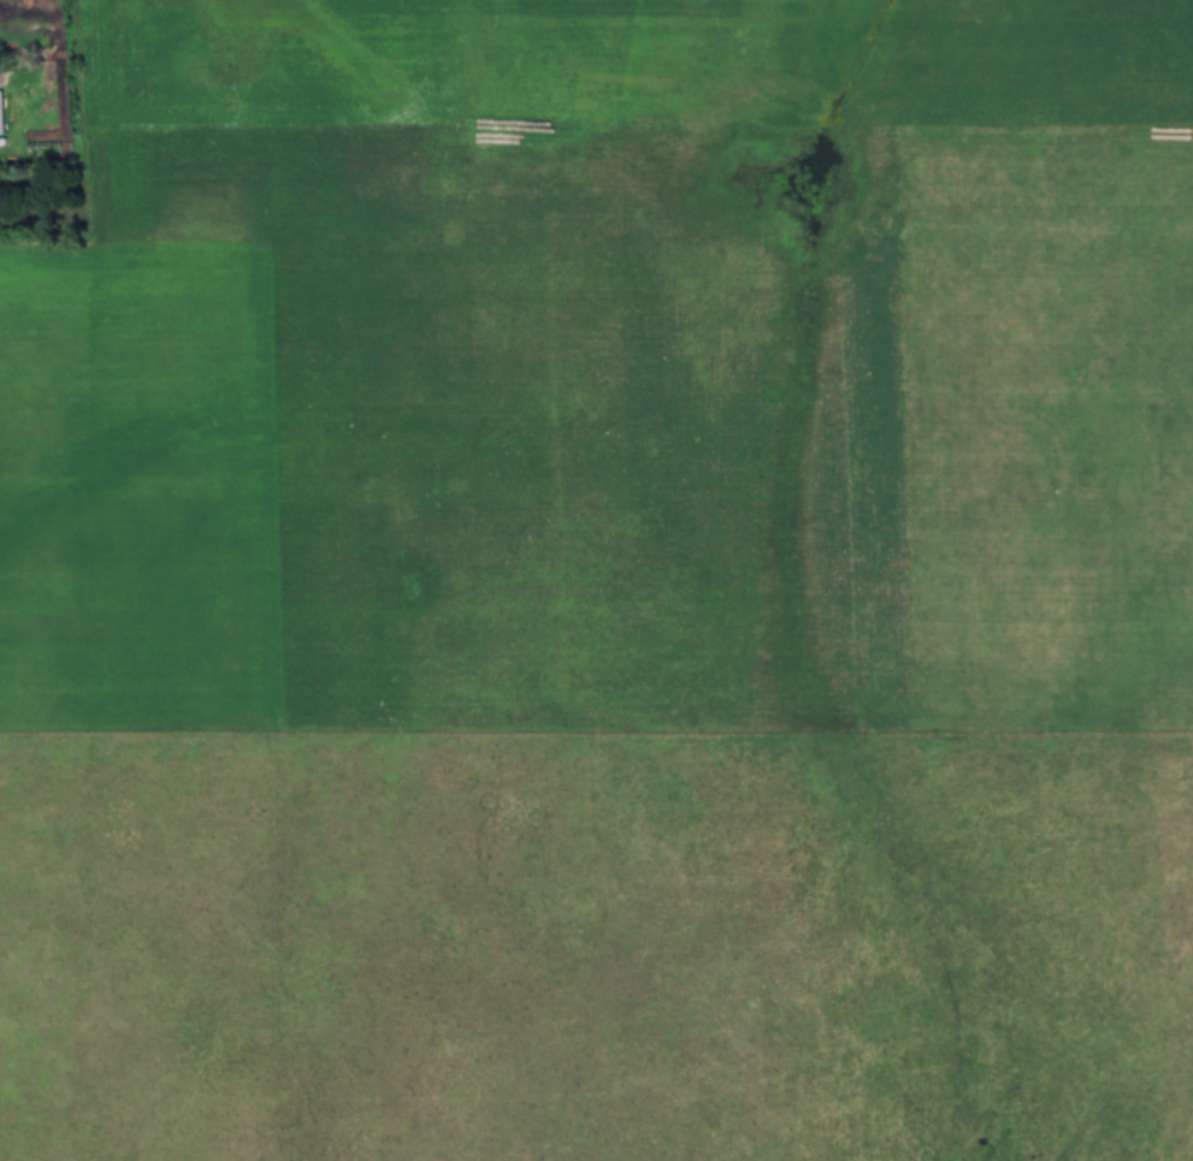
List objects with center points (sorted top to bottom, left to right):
road: (22, 130)

